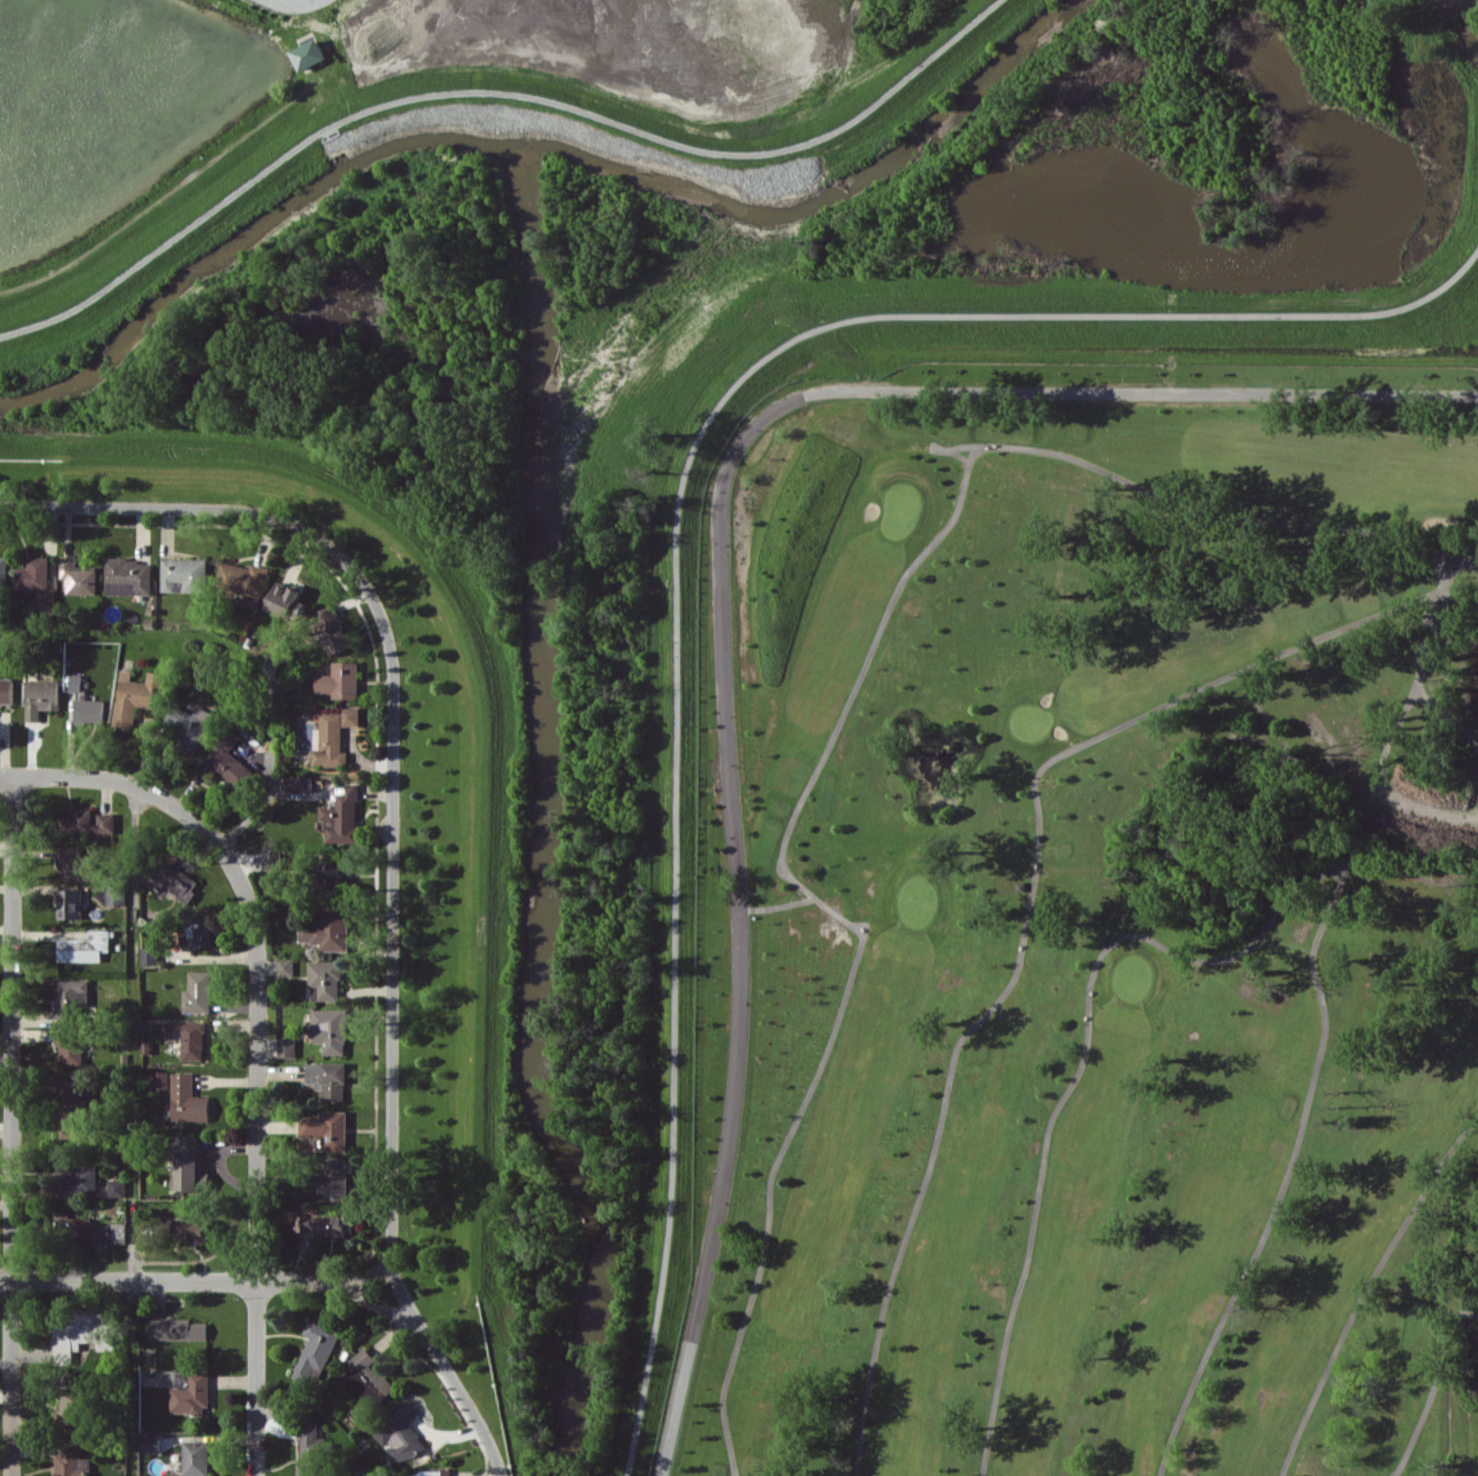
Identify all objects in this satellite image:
building: (309, 54)
road: (493, 92)
river: (821, 199)
river: (241, 243)
road: (260, 513)
road: (1200, 513)
road: (680, 533)
building: (4, 570)
building: (34, 574)
building: (185, 574)
building: (129, 576)
building: (79, 577)
building: (244, 577)
road: (721, 584)
building: (288, 600)
building: (334, 628)
building: (341, 680)
building: (76, 683)
building: (6, 690)
building: (136, 696)
building: (41, 697)
building: (91, 711)
road: (1450, 713)
building: (189, 725)
building: (332, 736)
building: (230, 763)
road: (268, 772)
park: (1023, 780)
building: (297, 783)
building: (342, 814)
building: (85, 822)
building: (272, 860)
building: (75, 864)
building: (331, 874)
building: (172, 876)
building: (116, 896)
building: (70, 903)
road: (778, 905)
road: (1027, 915)
building: (329, 929)
road: (859, 930)
building: (197, 931)
park: (1103, 944)
building: (150, 955)
building: (286, 966)
building: (325, 980)
building: (198, 992)
building: (71, 999)
road: (1323, 1018)
building: (331, 1029)
road: (257, 1036)
building: (188, 1037)
building: (287, 1047)
building: (70, 1048)
road: (1077, 1072)
building: (160, 1079)
building: (329, 1079)
building: (188, 1099)
road: (391, 1106)
building: (75, 1109)
road: (10, 1125)
building: (328, 1129)
road: (133, 1130)
building: (191, 1167)
building: (335, 1178)
building: (79, 1181)
building: (117, 1188)
building: (322, 1225)
building: (91, 1229)
building: (194, 1230)
road: (215, 1284)
road: (1365, 1288)
building: (178, 1329)
building: (82, 1333)
building: (316, 1351)
building: (369, 1377)
road: (1433, 1383)
building: (187, 1389)
building: (76, 1408)
building: (399, 1432)
building: (151, 1443)
building: (310, 1449)
building: (197, 1458)
building: (68, 1461)
building: (429, 1473)

